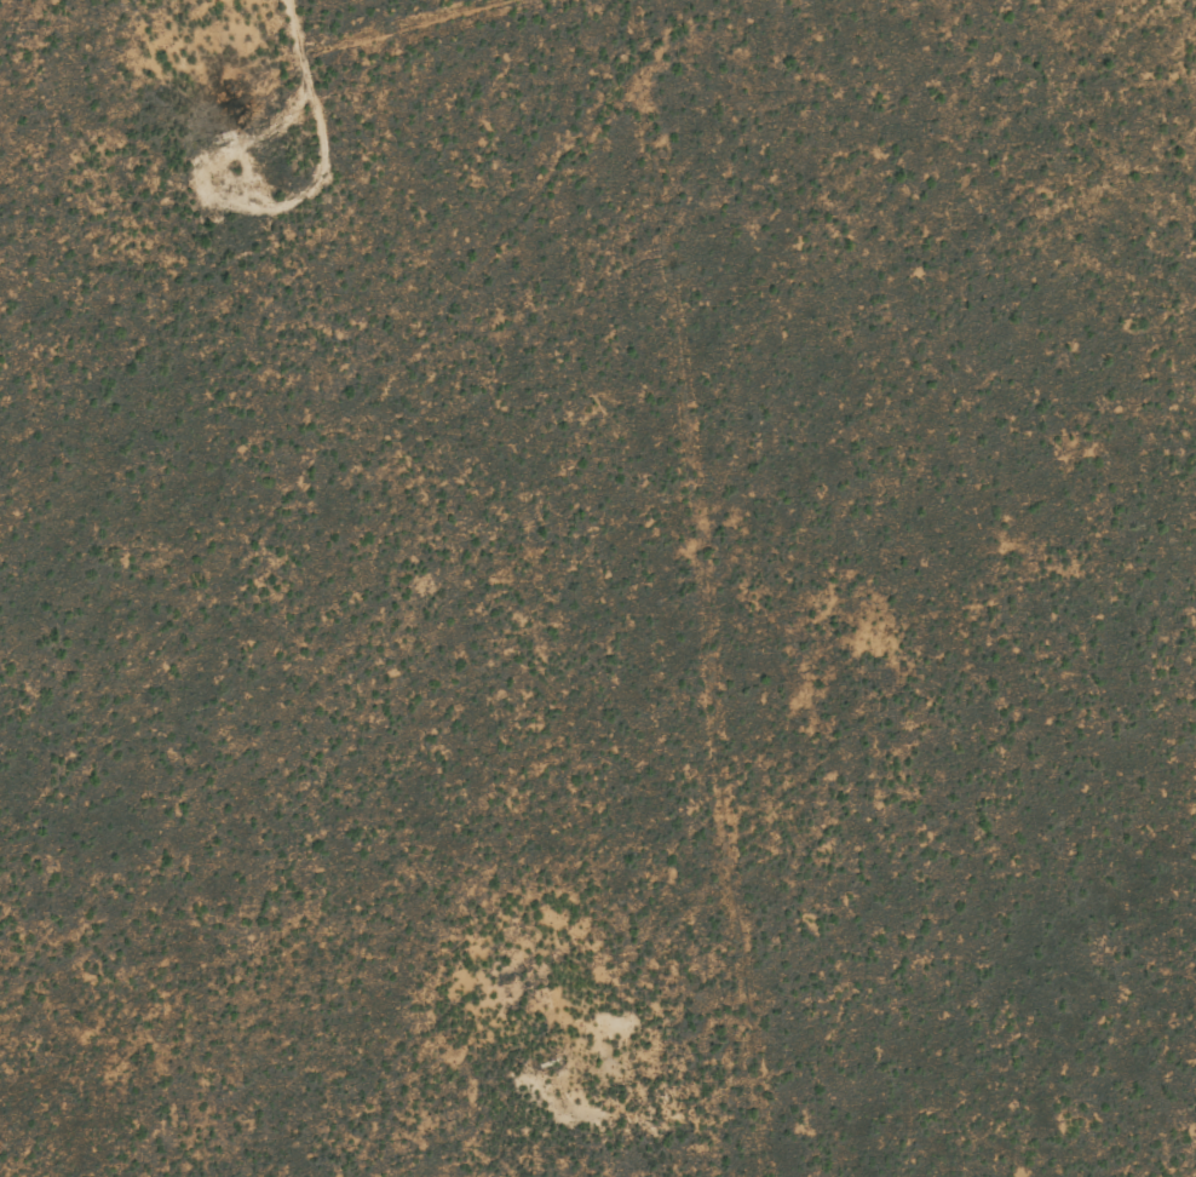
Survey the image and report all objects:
road: (361, 109)
road: (678, 1129)

